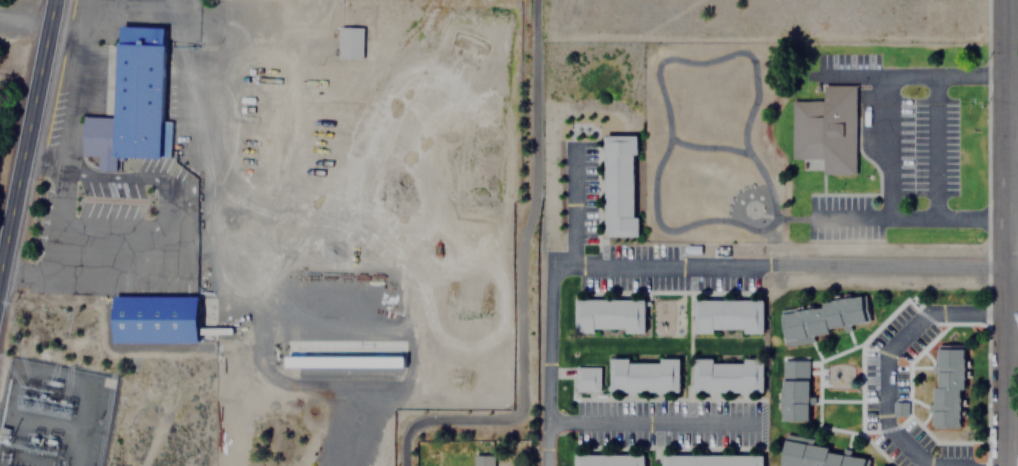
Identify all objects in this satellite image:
building: (348, 41)
building: (129, 100)
building: (825, 128)
road: (28, 139)
building: (618, 184)
road: (1002, 233)
road: (1010, 268)
road: (506, 291)
building: (608, 314)
building: (727, 315)
building: (820, 317)
building: (164, 318)
building: (350, 359)
building: (727, 374)
building: (643, 375)
building: (586, 378)
building: (947, 385)
building: (793, 389)
power substation: (52, 414)
building: (819, 455)
building: (598, 458)
building: (481, 459)
building: (710, 460)

